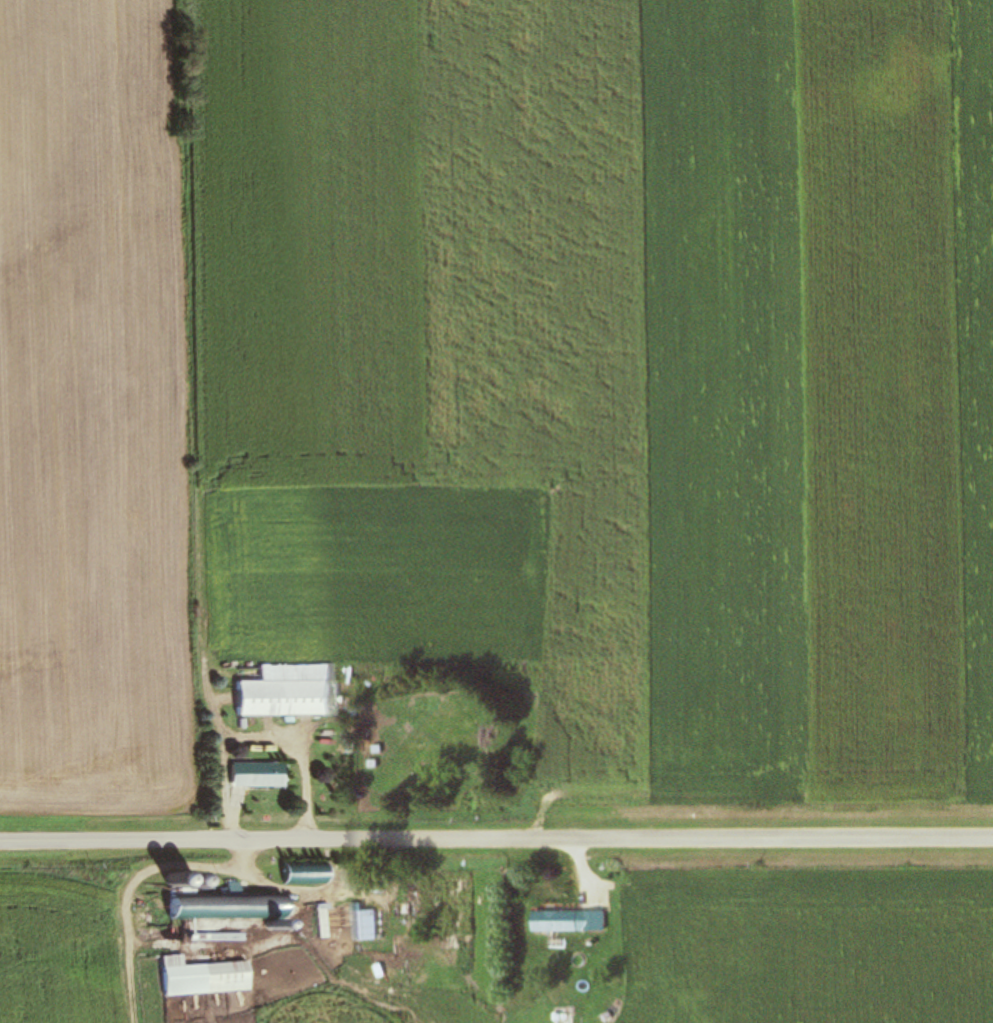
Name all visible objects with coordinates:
building: (290, 689)
building: (259, 773)
road: (496, 848)
building: (229, 907)
building: (323, 921)
building: (574, 922)
building: (369, 925)
building: (207, 973)
building: (563, 1016)

